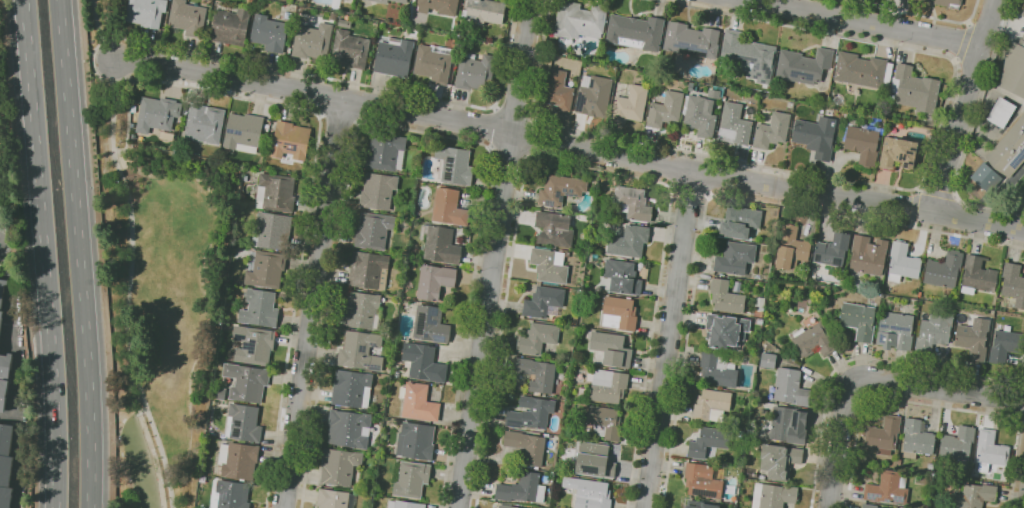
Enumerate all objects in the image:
building: (346, 0)
building: (381, 1)
building: (401, 1)
building: (953, 3)
building: (439, 6)
rooftop solar panel: (226, 9)
building: (147, 12)
building: (484, 12)
road: (916, 14)
building: (1023, 14)
park: (96, 17)
building: (188, 18)
building: (580, 20)
road: (864, 22)
road: (97, 23)
road: (967, 23)
building: (231, 25)
building: (269, 32)
building: (414, 32)
building: (636, 32)
building: (692, 40)
building: (313, 41)
road: (963, 42)
building: (350, 49)
rooftop solar panel: (689, 49)
building: (749, 55)
building: (395, 56)
rooftop solar panel: (743, 56)
road: (955, 60)
building: (434, 62)
road: (95, 64)
building: (804, 65)
rooftop solar panel: (756, 66)
rooftop solar panel: (740, 68)
rooftop solar panel: (764, 68)
building: (1014, 68)
building: (863, 70)
building: (475, 71)
rooftop solar panel: (800, 72)
rooftop solar panel: (751, 73)
rooftop solar panel: (758, 75)
rooftop solar panel: (795, 76)
rooftop solar panel: (809, 77)
rooftop solar panel: (755, 78)
road: (350, 81)
rooftop solar panel: (761, 81)
building: (914, 89)
building: (559, 90)
building: (594, 97)
building: (630, 103)
road: (963, 106)
building: (666, 109)
road: (516, 112)
building: (1002, 112)
building: (158, 114)
building: (700, 116)
building: (205, 123)
building: (735, 124)
road: (7, 128)
road: (493, 128)
road: (413, 129)
rooftop solar panel: (229, 130)
building: (772, 130)
building: (244, 132)
rooftop solar panel: (235, 133)
road: (968, 133)
building: (820, 136)
road: (533, 138)
building: (291, 140)
rooftop solar panel: (276, 142)
building: (863, 142)
road: (568, 146)
rooftop solar panel: (296, 148)
building: (1009, 150)
building: (386, 152)
building: (898, 153)
road: (509, 154)
rooftop solar panel: (451, 159)
rooftop solar panel: (1017, 159)
building: (455, 164)
rooftop solar panel: (451, 166)
road: (587, 169)
building: (984, 177)
rooftop solar panel: (447, 178)
road: (886, 185)
building: (561, 189)
building: (378, 190)
building: (276, 192)
road: (691, 192)
road: (935, 192)
rooftop solar panel: (569, 195)
road: (711, 195)
rooftop solar panel: (555, 196)
road: (308, 203)
rooftop solar panel: (550, 203)
building: (633, 203)
building: (449, 207)
road: (913, 207)
building: (584, 217)
building: (739, 222)
building: (554, 229)
building: (272, 230)
building: (374, 230)
building: (629, 241)
road: (14, 242)
building: (439, 245)
building: (792, 247)
building: (832, 250)
road: (43, 253)
road: (79, 253)
road: (494, 253)
building: (868, 255)
building: (736, 258)
building: (903, 262)
building: (550, 265)
building: (265, 268)
building: (369, 270)
building: (944, 270)
building: (978, 275)
building: (623, 277)
park: (160, 279)
building: (435, 281)
building: (1013, 283)
building: (2, 287)
road: (127, 295)
building: (726, 296)
building: (544, 302)
road: (314, 304)
building: (759, 307)
building: (260, 308)
building: (363, 310)
building: (620, 313)
rooftop solar panel: (429, 315)
building: (1, 319)
building: (859, 320)
rooftop solar panel: (419, 324)
building: (431, 324)
building: (726, 330)
building: (895, 331)
building: (934, 332)
rooftop solar panel: (437, 338)
building: (538, 338)
building: (974, 338)
road: (669, 339)
building: (815, 340)
building: (254, 344)
building: (1006, 345)
building: (612, 348)
building: (361, 351)
building: (231, 355)
building: (753, 358)
road: (858, 358)
building: (768, 360)
building: (424, 362)
building: (5, 365)
building: (719, 369)
building: (537, 374)
road: (18, 376)
road: (871, 380)
building: (247, 382)
building: (609, 385)
building: (791, 387)
building: (352, 388)
building: (583, 391)
building: (220, 393)
building: (3, 394)
building: (419, 402)
building: (711, 404)
road: (930, 406)
road: (1021, 408)
building: (531, 412)
building: (605, 421)
rooftop solar panel: (237, 422)
rooftop solar panel: (509, 422)
rooftop solar panel: (527, 422)
building: (243, 423)
rooftop solar panel: (514, 423)
building: (787, 426)
building: (349, 428)
rooftop solar panel: (236, 432)
building: (741, 434)
building: (883, 434)
building: (917, 438)
building: (416, 441)
building: (709, 441)
building: (958, 443)
building: (527, 446)
building: (991, 450)
building: (238, 460)
building: (595, 460)
building: (779, 460)
building: (6, 464)
building: (339, 466)
building: (412, 479)
building: (704, 480)
building: (523, 488)
building: (888, 488)
building: (589, 492)
rooftop solar panel: (702, 493)
building: (231, 495)
building: (774, 495)
rooftop solar panel: (872, 496)
building: (974, 496)
building: (335, 499)
rooftop solar panel: (898, 499)
rooftop solar panel: (885, 500)
building: (405, 504)
building: (701, 504)
building: (508, 505)
building: (869, 505)

